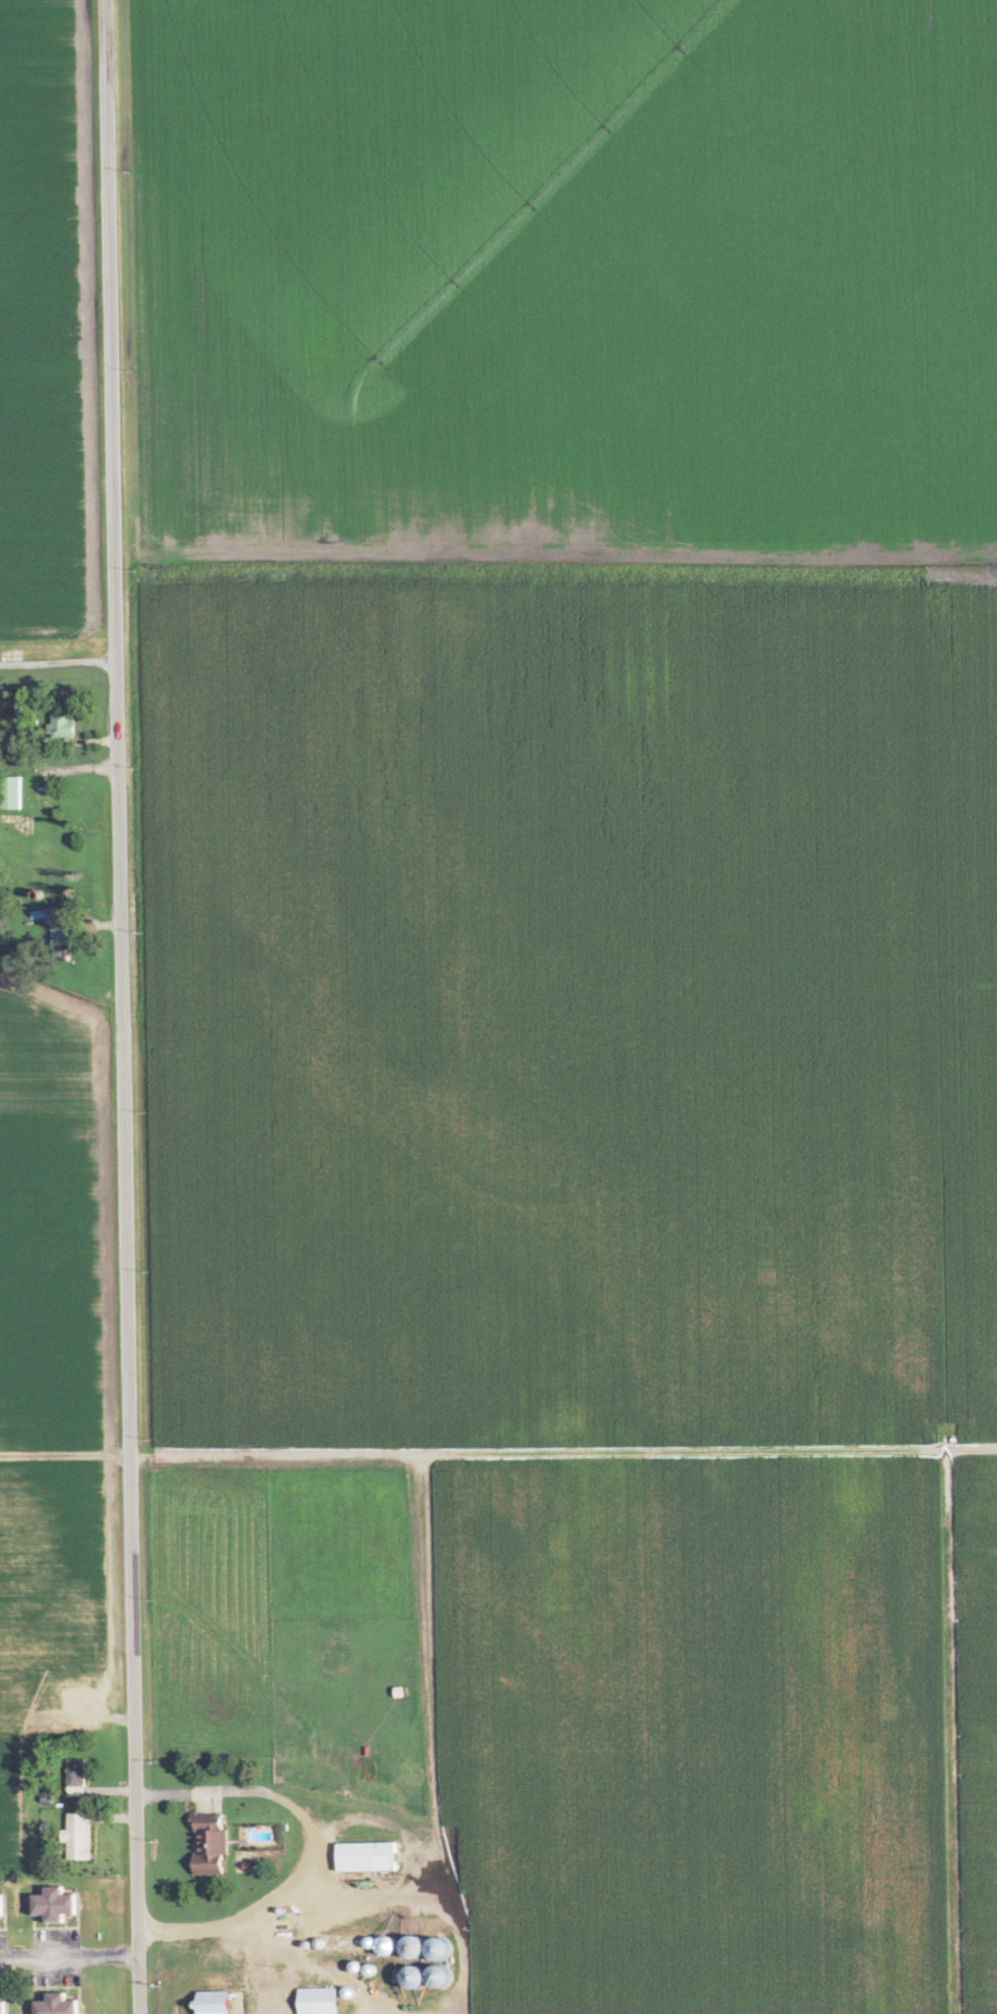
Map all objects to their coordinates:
building: (60, 727)
building: (10, 794)
road: (122, 1007)
building: (75, 1773)
building: (77, 1837)
building: (208, 1851)
road: (315, 1855)
building: (363, 1857)
building: (50, 1905)
building: (1, 1906)
road: (69, 1955)
building: (315, 2001)
building: (210, 2003)
building: (54, 2005)
building: (1, 2008)

